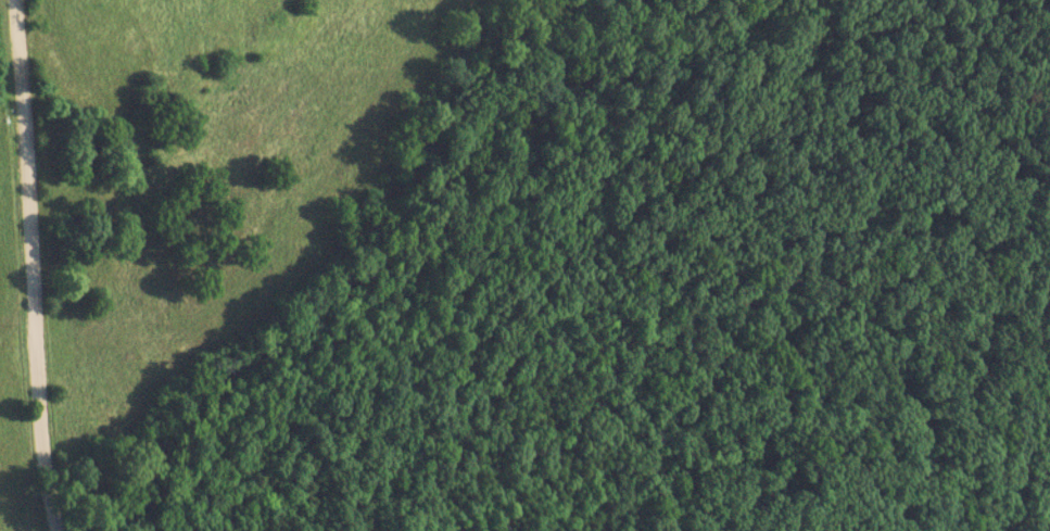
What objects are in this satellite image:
road: (28, 266)

